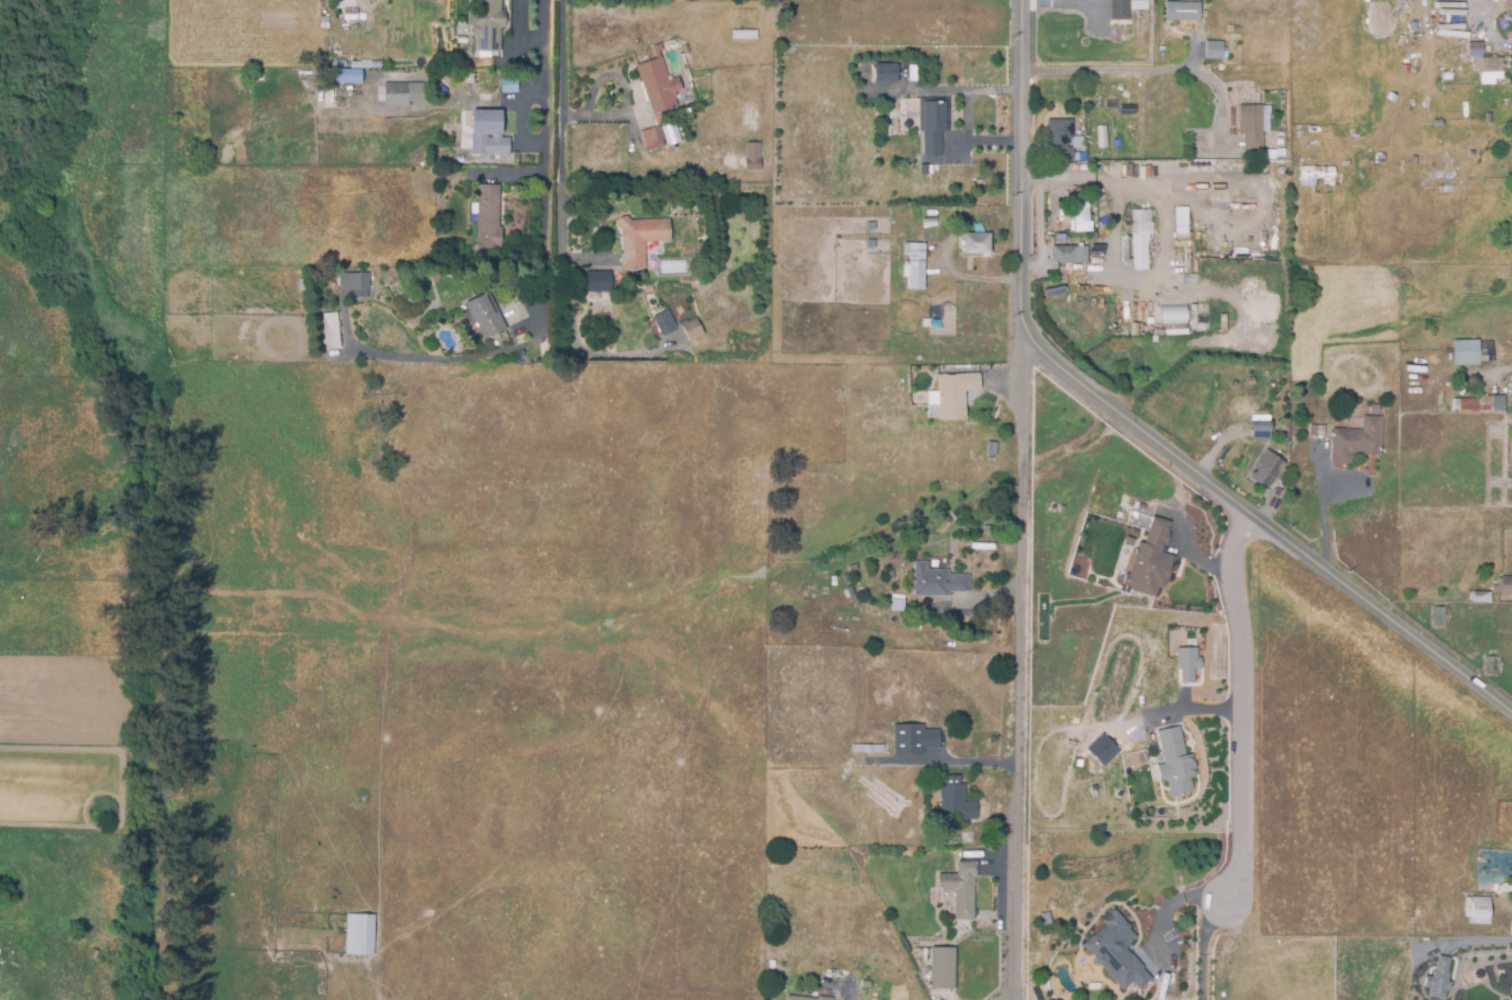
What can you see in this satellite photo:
building: (345, 3)
building: (1138, 6)
road: (1482, 7)
building: (1118, 10)
building: (1181, 12)
road: (1489, 24)
building: (488, 25)
building: (459, 29)
building: (742, 34)
building: (460, 41)
building: (1476, 50)
building: (1214, 51)
building: (363, 66)
road: (1102, 69)
building: (1488, 69)
building: (884, 74)
building: (346, 75)
building: (1445, 77)
building: (508, 86)
building: (656, 87)
building: (402, 96)
road: (1221, 96)
building: (374, 99)
road: (970, 115)
road: (544, 118)
building: (932, 125)
building: (1249, 128)
building: (672, 133)
building: (487, 135)
building: (1060, 138)
building: (1101, 138)
building: (650, 140)
building: (1077, 144)
road: (543, 146)
building: (1272, 154)
building: (514, 158)
building: (753, 158)
building: (923, 171)
building: (1314, 176)
building: (697, 209)
building: (1081, 213)
building: (487, 219)
road: (561, 221)
building: (1179, 221)
building: (928, 223)
building: (899, 225)
building: (1139, 239)
building: (639, 240)
building: (975, 244)
building: (1068, 255)
building: (915, 265)
building: (359, 282)
building: (597, 283)
building: (175, 284)
building: (648, 290)
building: (1172, 316)
building: (485, 317)
building: (664, 325)
building: (330, 330)
building: (691, 331)
building: (1465, 353)
building: (323, 357)
road: (448, 358)
building: (1483, 359)
building: (1250, 382)
building: (1270, 387)
building: (1510, 391)
building: (956, 397)
building: (1480, 405)
building: (1373, 410)
road: (1133, 425)
building: (1261, 430)
building: (1316, 432)
building: (1356, 441)
building: (1269, 475)
road: (1323, 511)
building: (1149, 560)
building: (851, 569)
building: (889, 576)
building: (845, 579)
building: (854, 580)
building: (937, 583)
building: (1506, 586)
building: (849, 593)
building: (1480, 598)
building: (897, 604)
building: (1438, 618)
road: (1017, 664)
building: (1186, 664)
building: (1489, 666)
road: (1242, 705)
road: (1211, 709)
building: (913, 737)
building: (866, 747)
building: (1101, 749)
building: (1174, 762)
road: (965, 763)
building: (954, 797)
building: (959, 887)
building: (1507, 890)
road: (1178, 900)
building: (1477, 911)
building: (360, 933)
road: (1477, 940)
road: (1206, 946)
building: (93, 953)
building: (1118, 953)
building: (942, 967)
building: (1437, 978)
building: (321, 988)
road: (848, 994)
building: (861, 996)
building: (805, 997)
building: (1507, 998)

